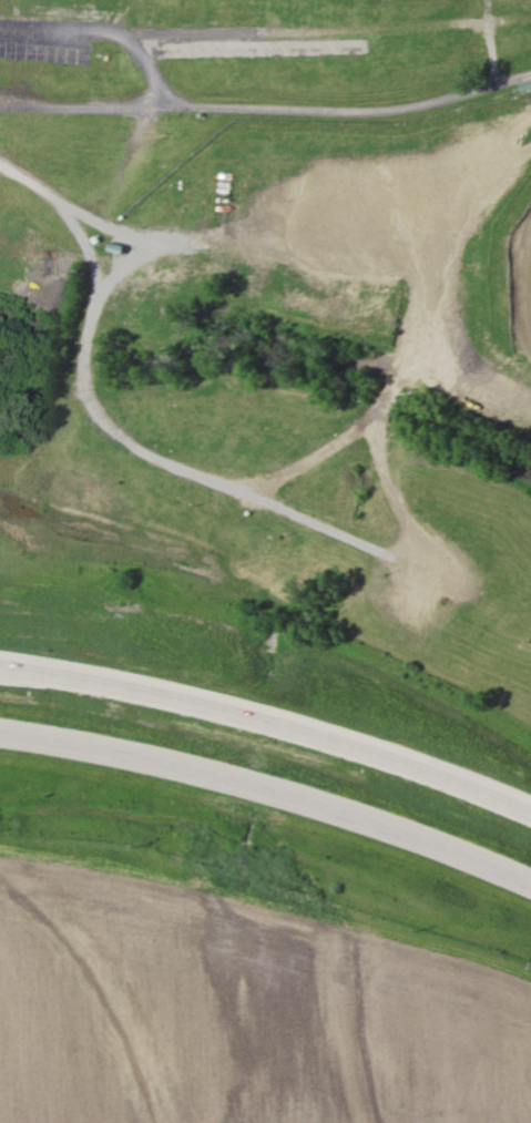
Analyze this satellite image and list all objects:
road: (106, 31)
road: (490, 44)
road: (267, 111)
road: (262, 223)
road: (269, 721)
road: (269, 789)

